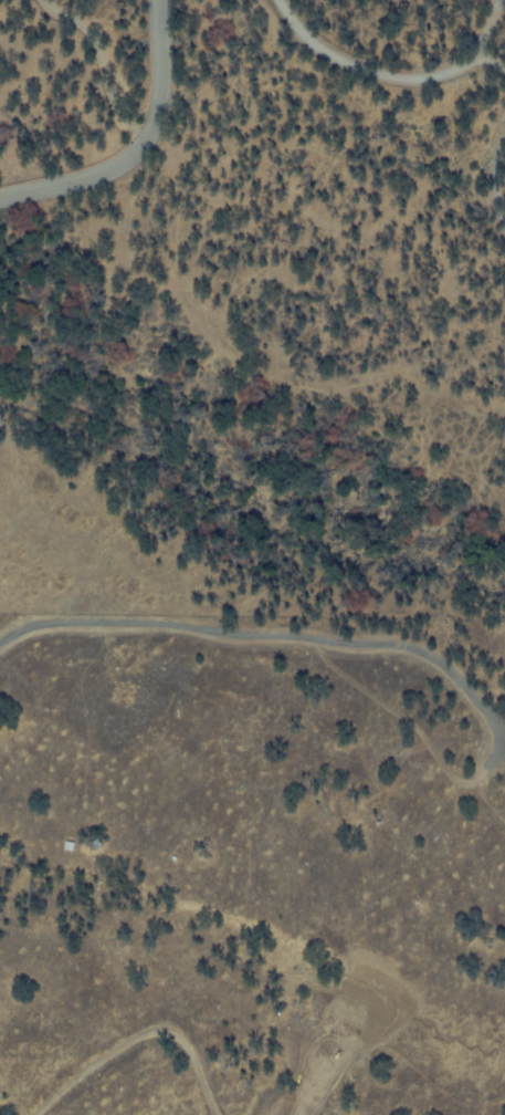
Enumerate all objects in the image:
road: (157, 54)
road: (392, 71)
road: (91, 170)

